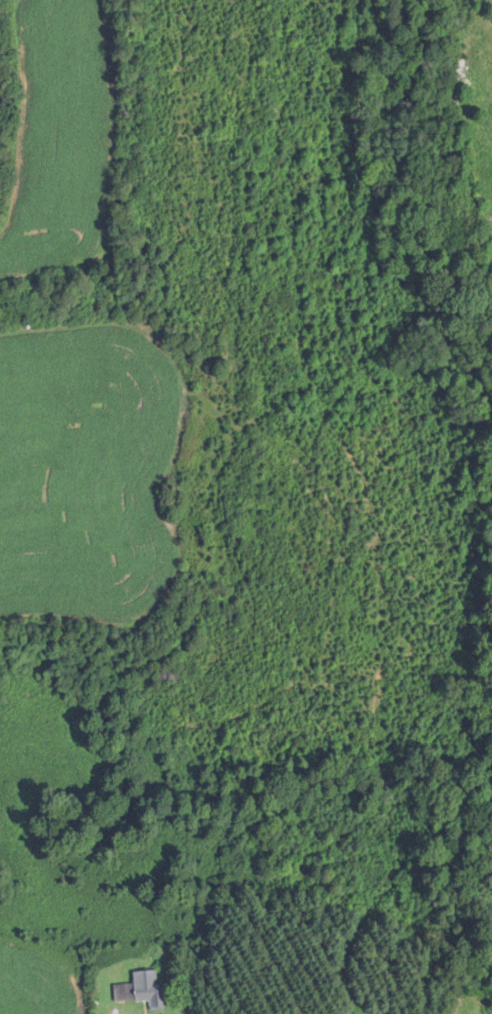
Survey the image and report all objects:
building: (142, 988)

